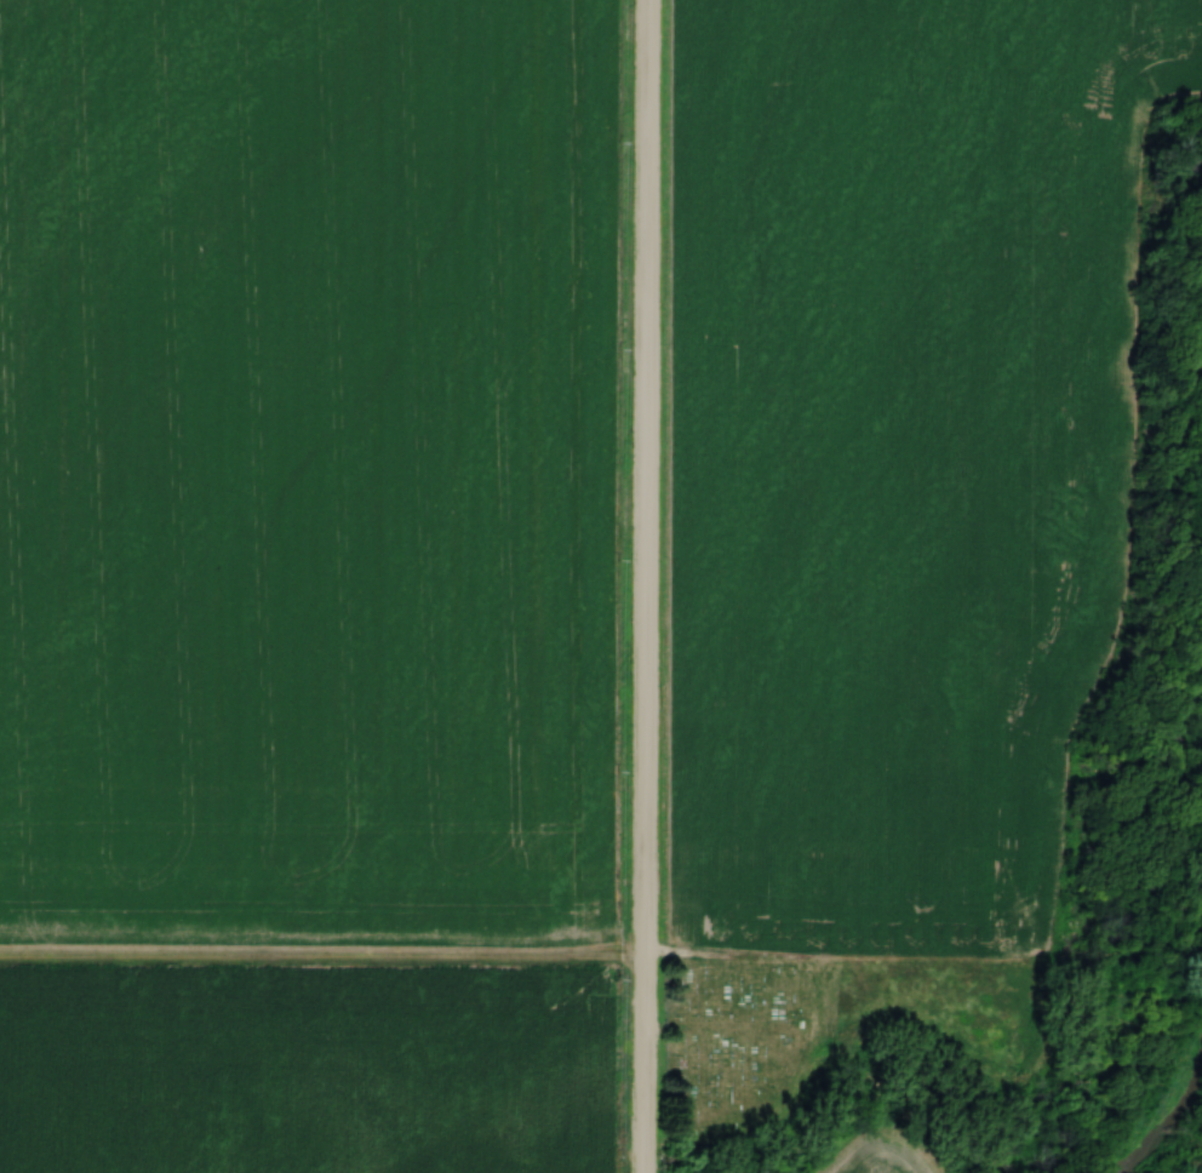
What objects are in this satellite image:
crop: (893, 447)
road: (647, 586)
river: (1163, 1115)

